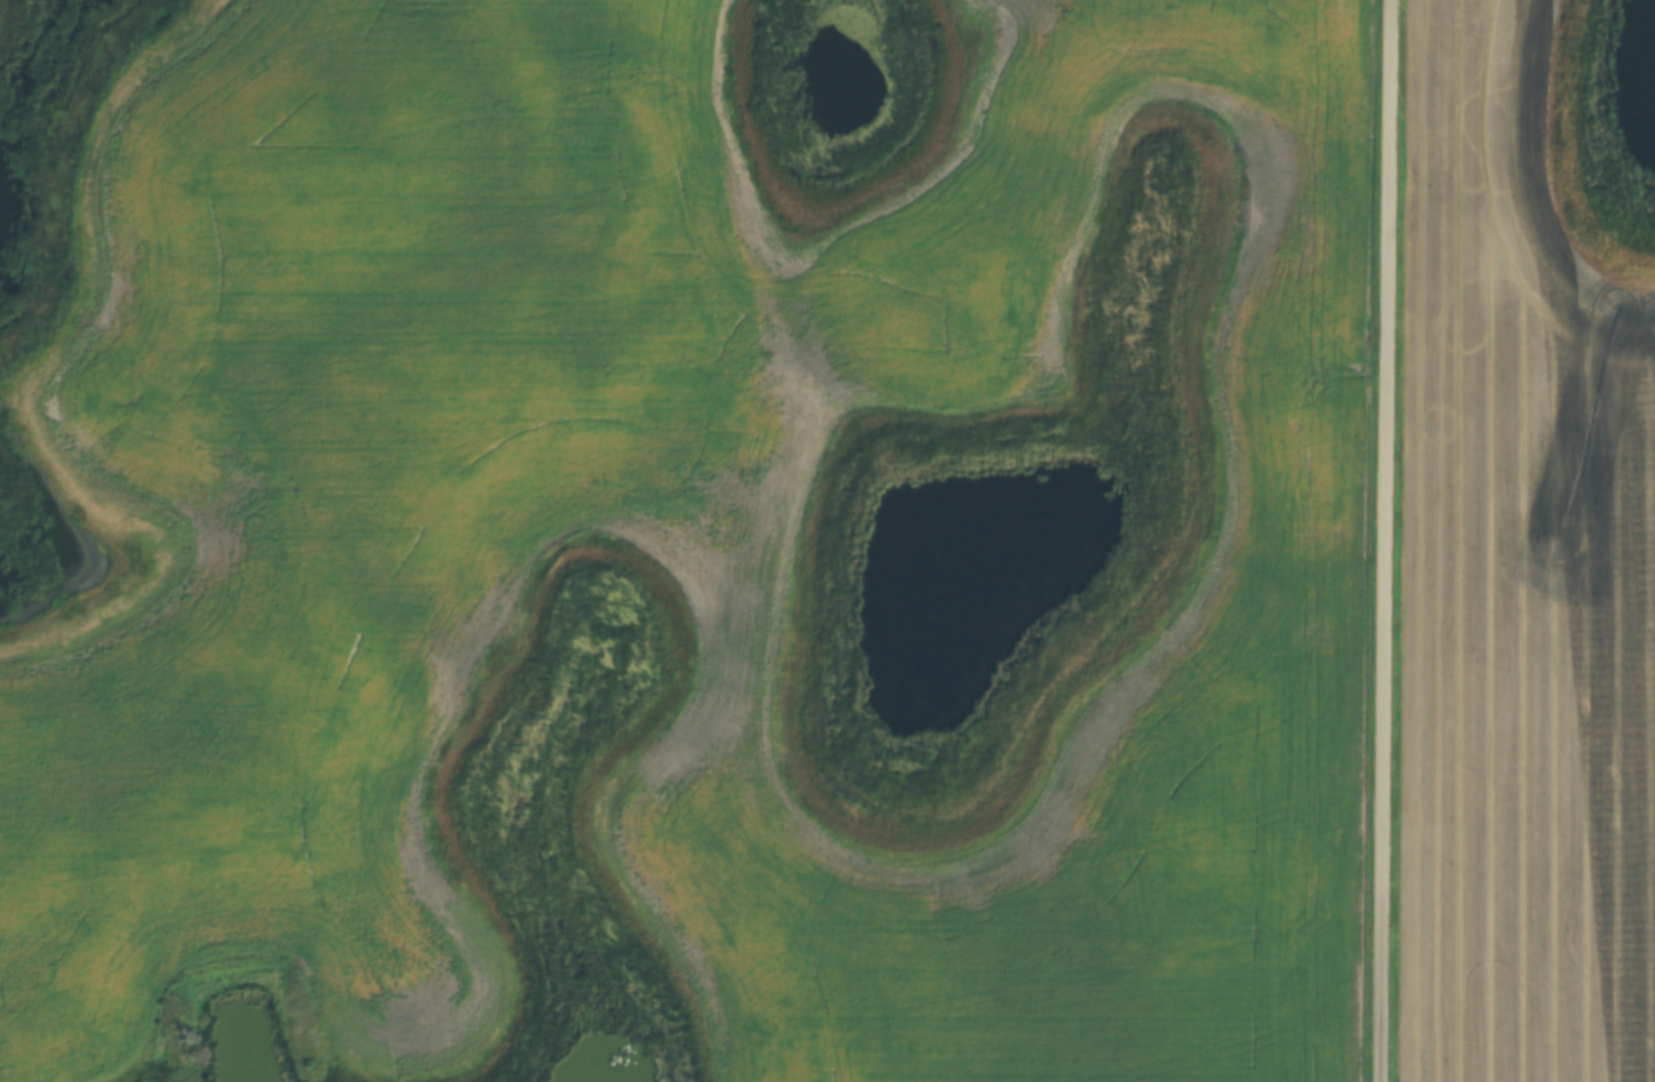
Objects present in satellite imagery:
road: (1397, 541)

